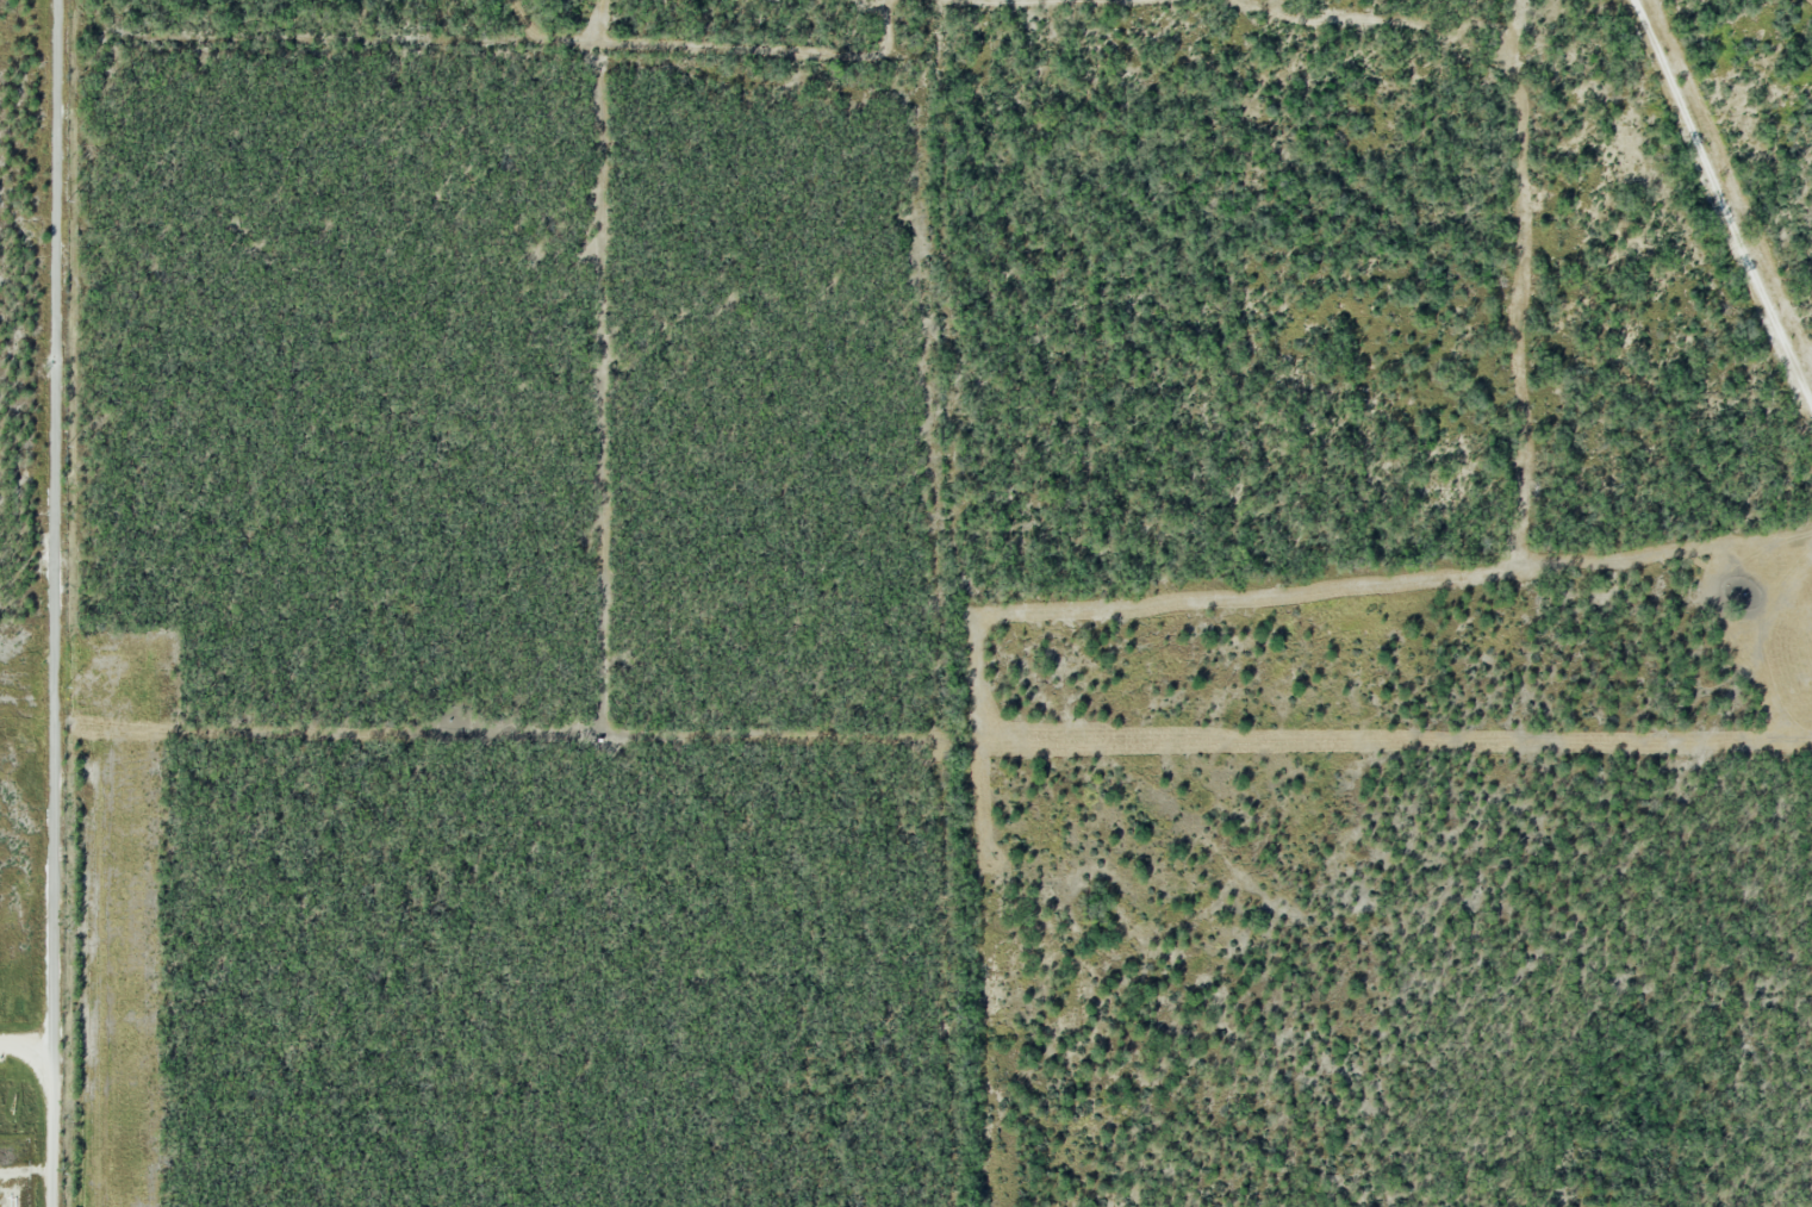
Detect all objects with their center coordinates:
road: (1721, 200)
road: (54, 603)

